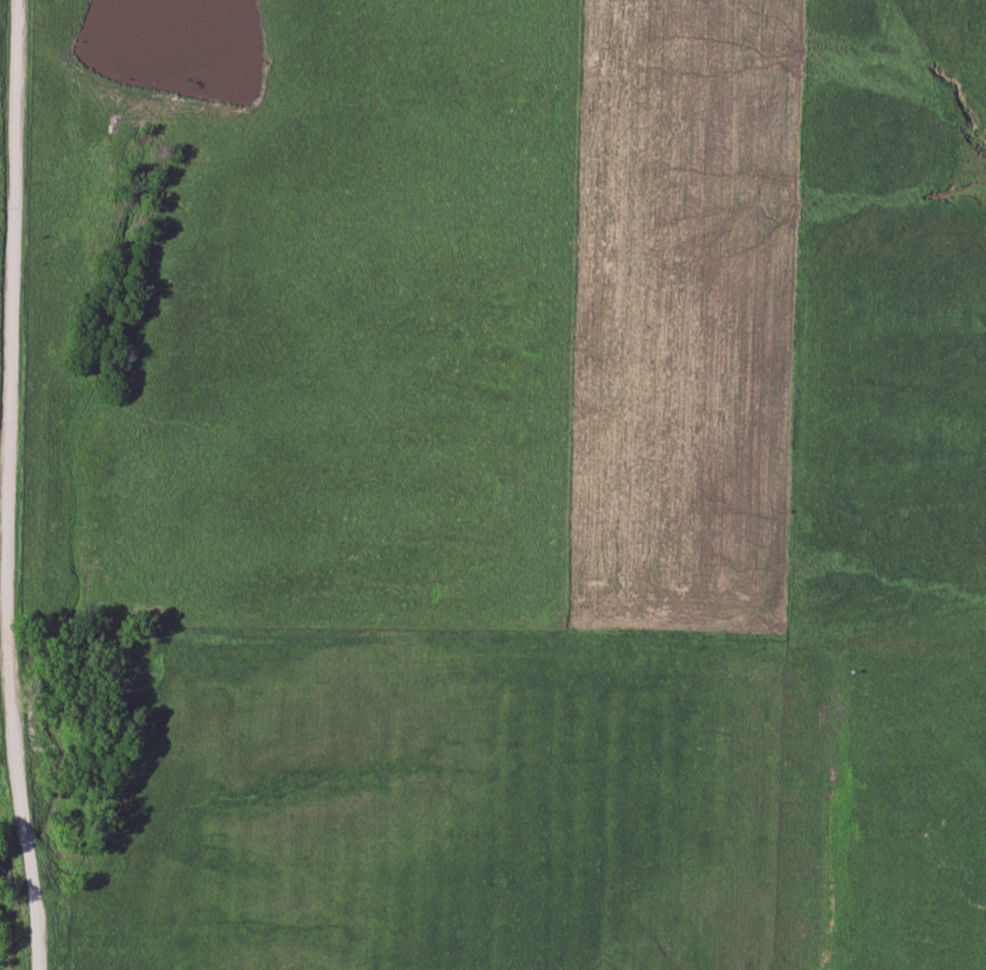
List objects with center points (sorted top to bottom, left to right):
road: (6, 485)

